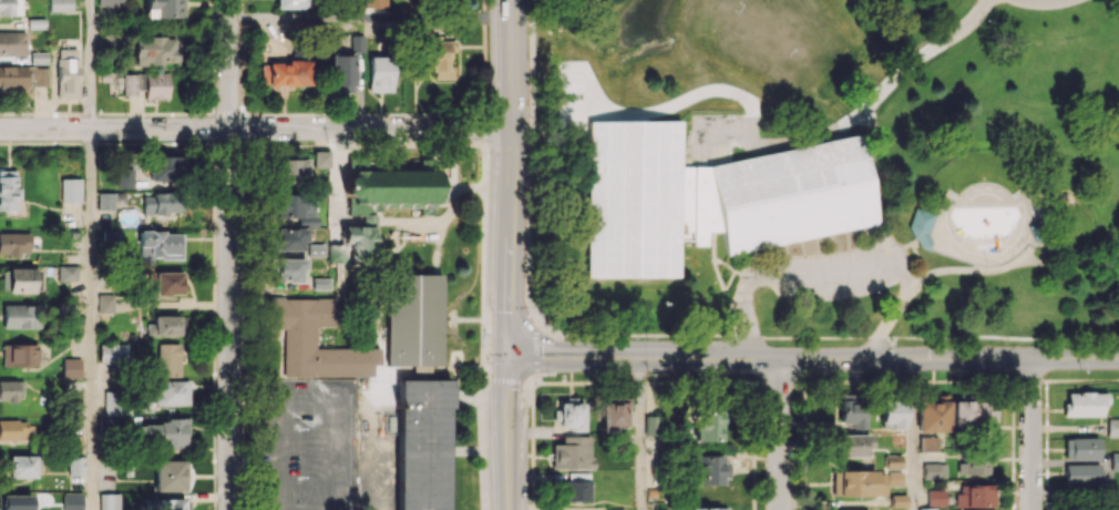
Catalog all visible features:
road: (1043, 2)
building: (290, 3)
building: (60, 6)
building: (376, 6)
building: (10, 7)
building: (107, 7)
building: (164, 9)
road: (367, 16)
building: (35, 22)
street lamp: (987, 23)
park: (739, 30)
building: (12, 43)
building: (153, 50)
building: (438, 57)
road: (89, 64)
building: (66, 72)
building: (285, 72)
building: (342, 73)
building: (380, 73)
building: (21, 76)
building: (146, 84)
road: (883, 90)
road: (254, 129)
parking lot: (717, 134)
road: (721, 143)
building: (320, 159)
building: (163, 167)
building: (289, 171)
park: (822, 171)
building: (124, 177)
road: (507, 178)
road: (528, 180)
building: (388, 187)
building: (70, 188)
building: (8, 190)
building: (711, 197)
building: (105, 201)
building: (161, 203)
building: (290, 206)
building: (918, 228)
building: (1034, 229)
building: (110, 236)
building: (360, 237)
building: (288, 238)
building: (13, 244)
building: (162, 244)
road: (913, 253)
road: (229, 254)
road: (1075, 261)
building: (289, 269)
road: (971, 269)
building: (66, 273)
parking lot: (835, 274)
road: (823, 275)
building: (19, 279)
building: (165, 282)
building: (104, 303)
road: (896, 306)
street lamp: (538, 312)
road: (742, 315)
building: (20, 316)
road: (90, 319)
building: (412, 320)
building: (163, 325)
street lamp: (483, 333)
street lamp: (891, 333)
road: (732, 336)
building: (298, 337)
road: (1004, 338)
building: (112, 351)
building: (19, 354)
traffic signals: (507, 358)
road: (813, 358)
traffic signals: (886, 358)
building: (167, 359)
building: (71, 368)
street lamp: (740, 370)
street lamp: (904, 370)
street lamp: (1081, 370)
street lamp: (650, 371)
street lamp: (814, 373)
street lamp: (547, 375)
building: (11, 389)
building: (170, 392)
building: (113, 402)
building: (1084, 404)
building: (851, 410)
building: (973, 412)
building: (614, 414)
building: (893, 414)
building: (933, 414)
building: (568, 415)
building: (651, 425)
building: (707, 425)
building: (1112, 427)
building: (17, 429)
building: (165, 432)
road: (507, 433)
road: (640, 433)
road: (781, 433)
road: (910, 433)
road: (1031, 433)
building: (928, 442)
building: (421, 443)
building: (852, 445)
building: (1080, 448)
building: (572, 452)
building: (893, 461)
building: (1113, 461)
building: (973, 465)
building: (21, 466)
building: (74, 466)
building: (709, 469)
building: (934, 470)
building: (170, 475)
building: (1080, 475)
building: (894, 478)
building: (859, 482)
building: (576, 490)
road: (1075, 492)
building: (974, 496)
building: (935, 497)
building: (899, 500)
building: (109, 501)
building: (172, 503)
building: (708, 508)
building: (614, 509)

